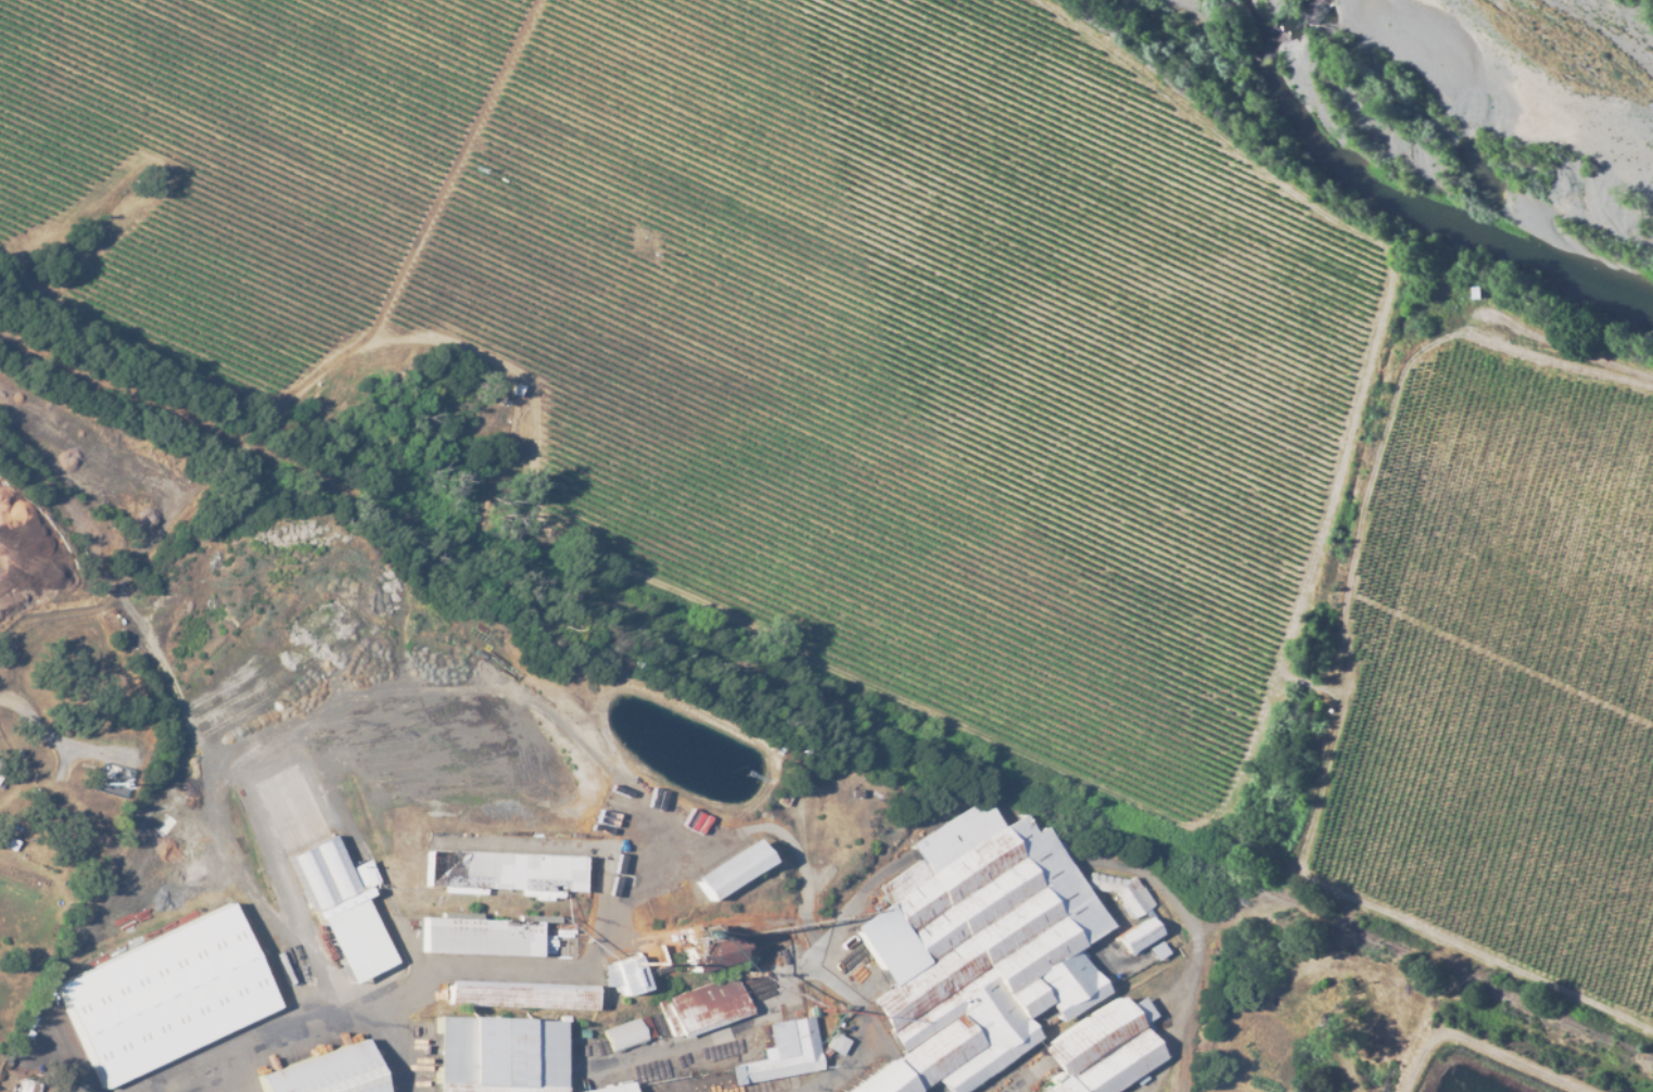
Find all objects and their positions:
river: (1416, 194)
road: (1589, 355)
railway: (825, 700)
road: (237, 776)
building: (508, 873)
building: (727, 874)
building: (325, 878)
building: (1123, 891)
building: (1139, 934)
building: (482, 941)
building: (980, 948)
building: (623, 974)
building: (167, 998)
building: (518, 1000)
building: (703, 1005)
building: (624, 1033)
building: (836, 1043)
building: (1105, 1050)
building: (780, 1052)
building: (500, 1061)
building: (325, 1076)
building: (26, 1084)
building: (609, 1088)

